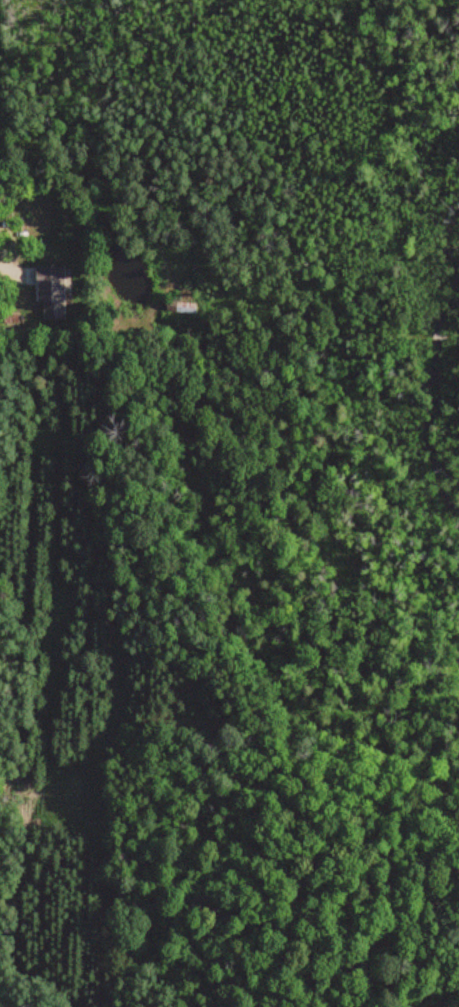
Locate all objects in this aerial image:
building: (51, 290)

